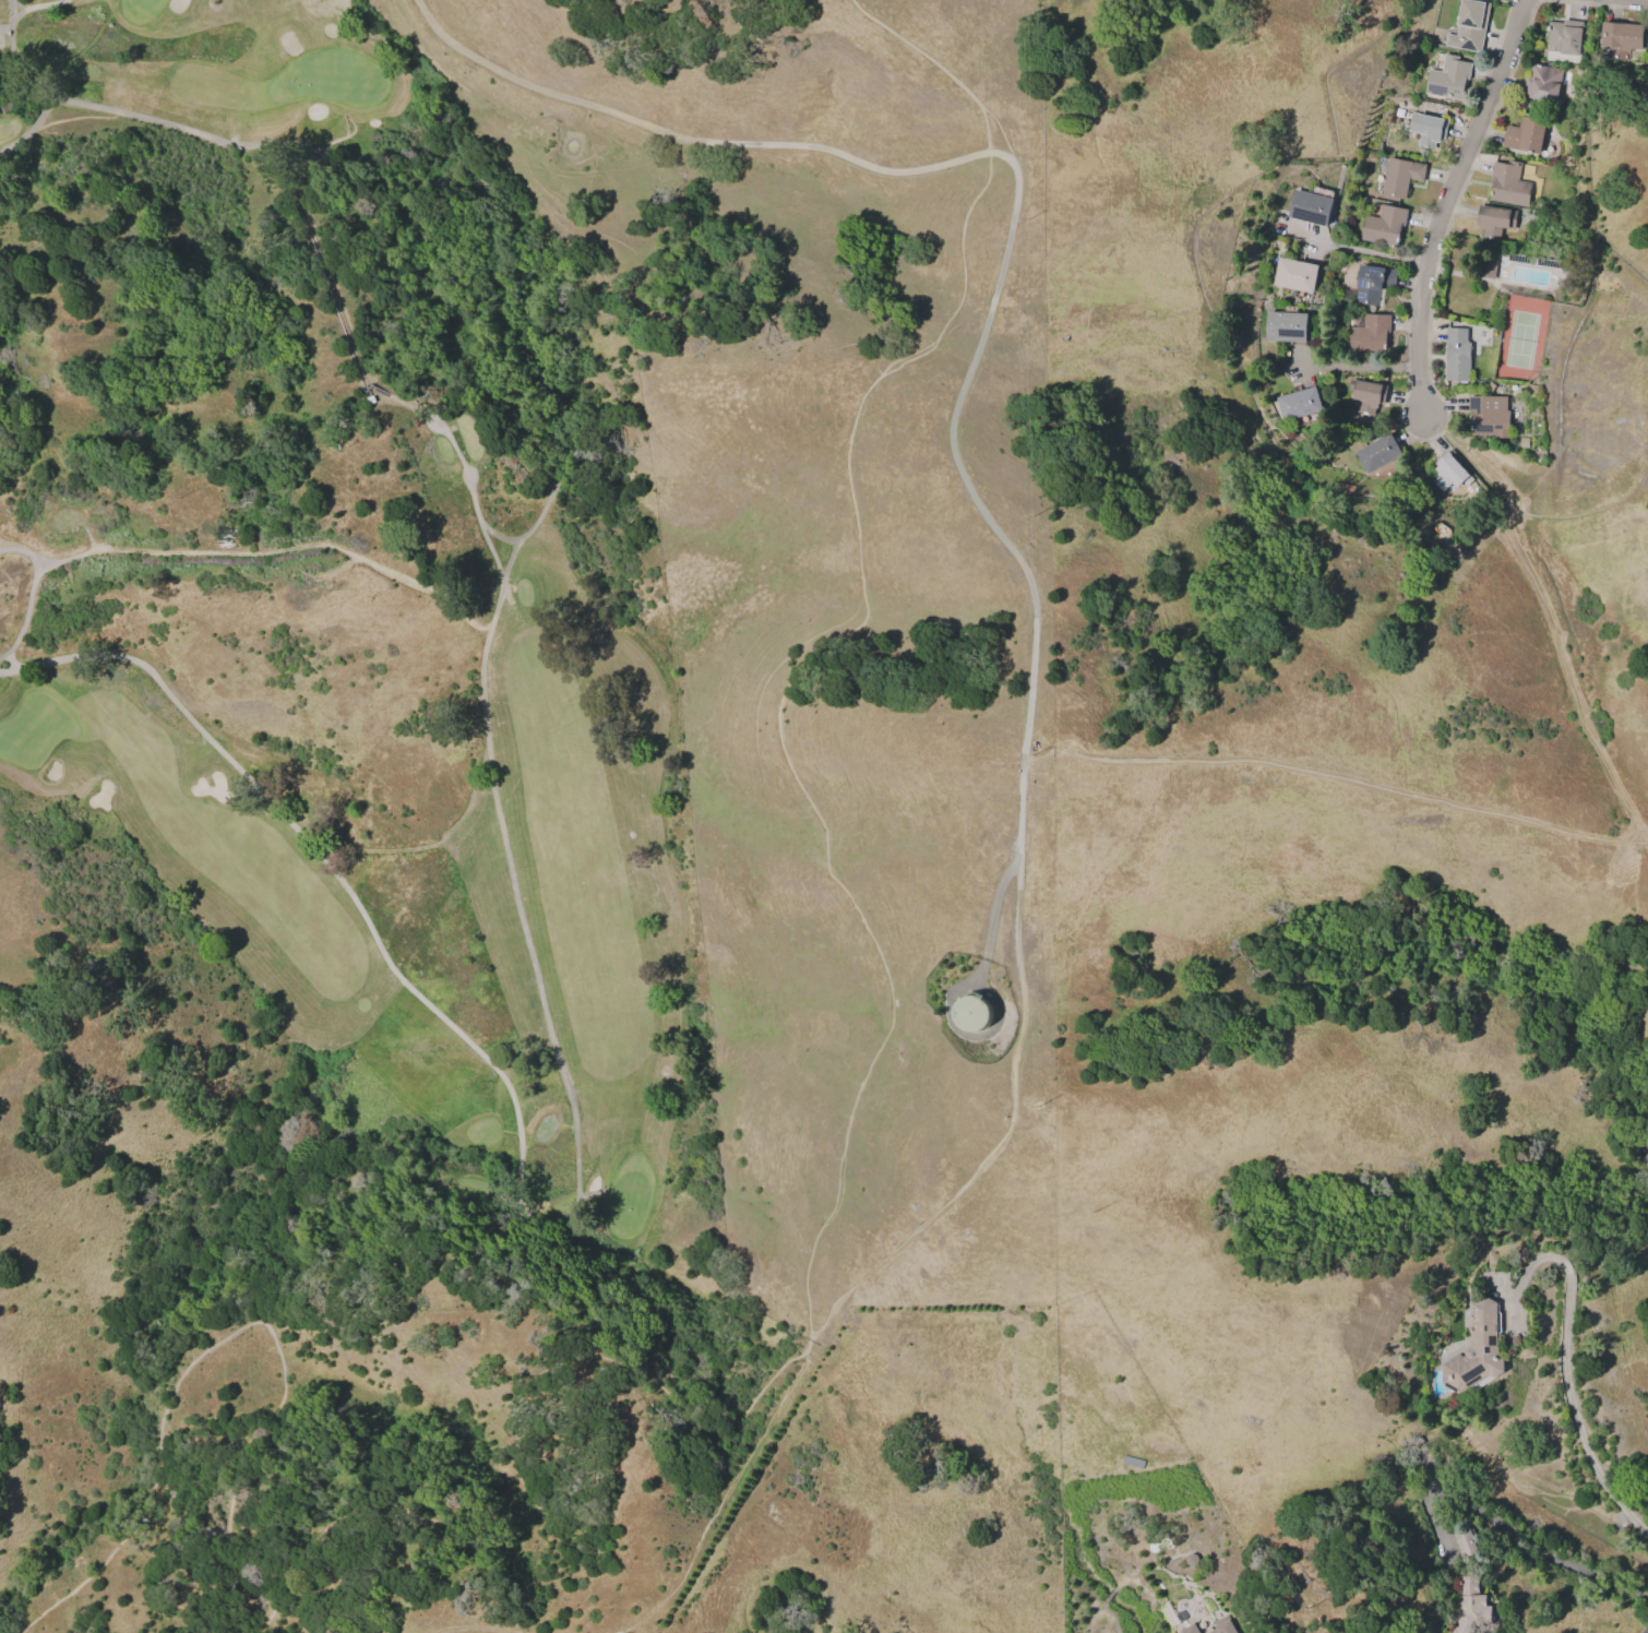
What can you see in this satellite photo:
park: (395, 17)
building: (1472, 26)
building: (1625, 36)
building: (1566, 38)
road: (940, 67)
building: (1452, 79)
building: (1545, 83)
building: (1433, 132)
building: (1528, 133)
road: (680, 136)
road: (994, 155)
building: (1404, 176)
building: (1510, 184)
road: (1443, 200)
building: (1315, 207)
building: (1498, 222)
building: (1387, 226)
road: (1378, 253)
building: (1486, 269)
building: (1300, 274)
building: (1375, 283)
building: (1291, 326)
building: (1371, 333)
park: (1520, 341)
building: (1460, 355)
road: (1365, 368)
building: (1372, 397)
building: (1303, 405)
building: (1491, 416)
building: (1381, 454)
building: (1454, 474)
road: (969, 496)
park: (356, 601)
road: (1545, 620)
road: (779, 726)
road: (1337, 773)
road: (996, 909)
building: (971, 1011)
road: (1000, 1125)
road: (225, 1333)
building: (1474, 1348)
road: (1563, 1372)
road: (534, 1461)
road: (724, 1497)
building: (1465, 1541)
building: (1469, 1604)
building: (1221, 1625)
building: (1190, 1629)
road: (461, 1632)

